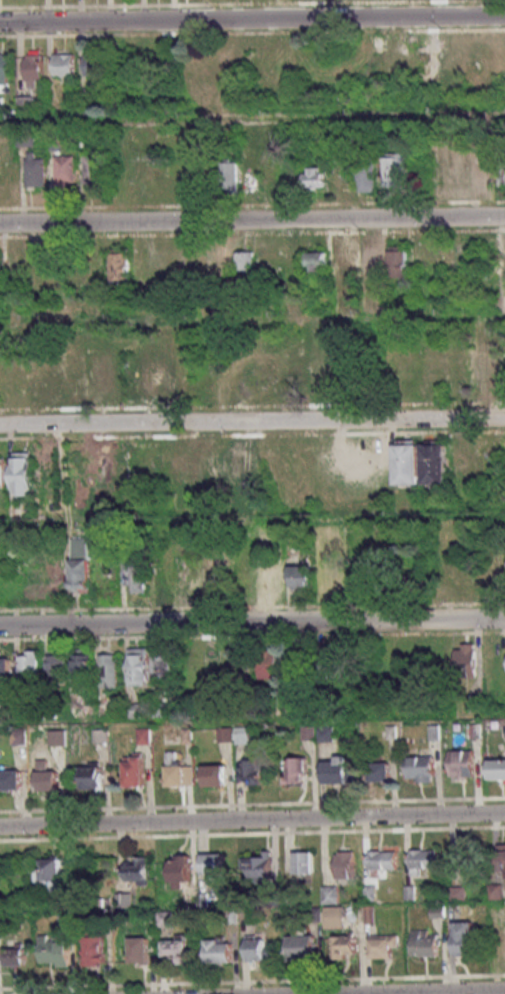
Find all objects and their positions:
road: (252, 18)
building: (419, 61)
building: (63, 64)
building: (33, 65)
building: (94, 66)
building: (5, 71)
road: (252, 118)
building: (456, 160)
building: (36, 168)
building: (64, 169)
building: (93, 169)
building: (394, 169)
building: (483, 174)
building: (501, 176)
building: (228, 177)
building: (314, 177)
building: (366, 179)
road: (252, 219)
building: (223, 258)
building: (344, 260)
building: (504, 260)
building: (316, 261)
building: (396, 261)
building: (244, 262)
building: (285, 262)
building: (369, 263)
building: (97, 264)
building: (120, 264)
road: (252, 315)
building: (482, 366)
building: (322, 372)
building: (157, 377)
road: (252, 421)
building: (462, 454)
building: (406, 462)
building: (433, 462)
building: (180, 463)
building: (293, 463)
building: (237, 464)
building: (104, 468)
building: (2, 472)
building: (45, 472)
building: (21, 473)
building: (183, 505)
road: (252, 515)
building: (217, 558)
building: (80, 563)
building: (135, 576)
building: (300, 576)
building: (191, 577)
building: (164, 578)
building: (273, 579)
road: (252, 622)
building: (465, 659)
building: (28, 663)
building: (164, 663)
building: (56, 664)
building: (271, 664)
building: (83, 665)
building: (138, 666)
building: (109, 670)
building: (4, 671)
building: (135, 710)
building: (142, 735)
building: (461, 763)
building: (420, 768)
building: (496, 769)
building: (133, 770)
building: (297, 770)
building: (178, 771)
building: (252, 771)
building: (334, 771)
building: (377, 772)
building: (212, 775)
building: (92, 776)
building: (46, 777)
building: (10, 779)
road: (252, 816)
building: (382, 859)
building: (422, 860)
building: (463, 860)
building: (498, 860)
building: (303, 862)
building: (344, 864)
building: (213, 865)
building: (260, 867)
building: (179, 868)
building: (47, 873)
building: (137, 873)
building: (3, 886)
building: (329, 894)
building: (333, 917)
building: (463, 938)
building: (425, 942)
building: (502, 944)
building: (383, 945)
building: (344, 946)
building: (301, 947)
building: (257, 948)
building: (94, 949)
building: (138, 949)
building: (175, 949)
building: (218, 950)
building: (53, 951)
building: (14, 956)
road: (433, 992)

